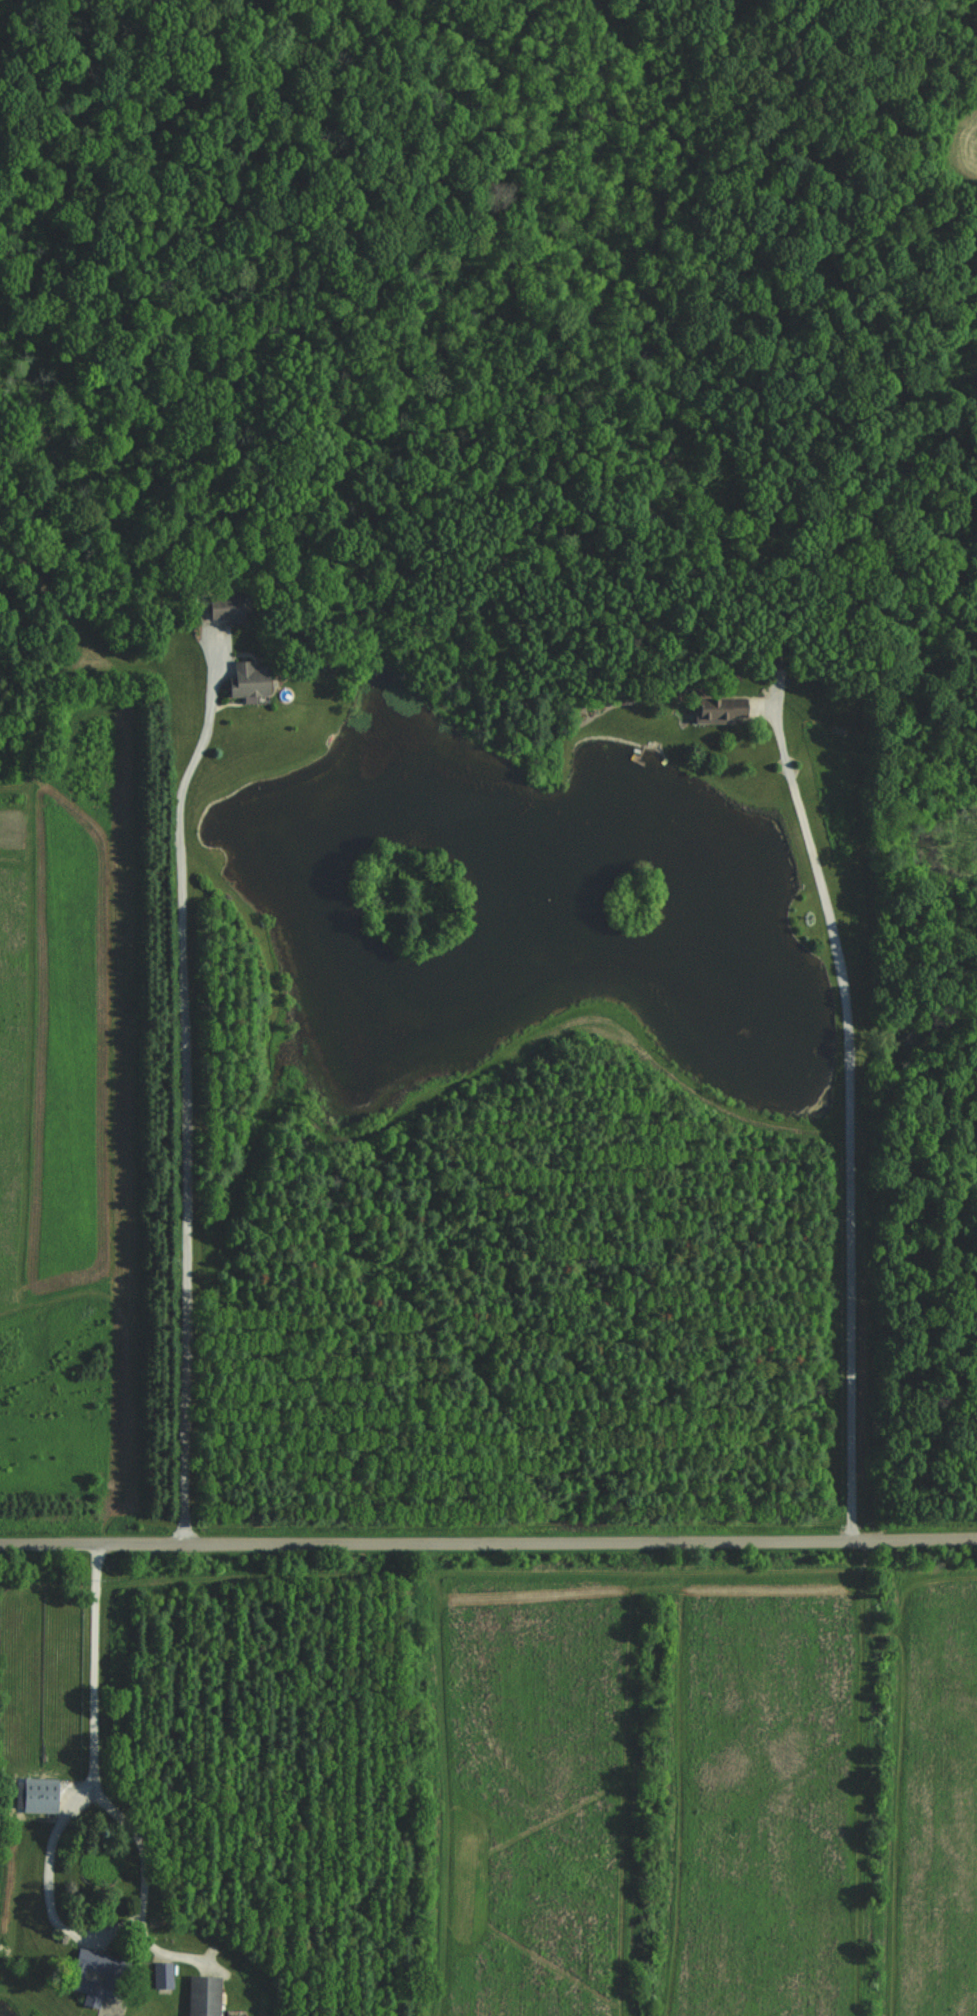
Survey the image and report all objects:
building: (221, 609)
building: (243, 681)
building: (717, 711)
road: (850, 1117)
road: (185, 1119)
road: (488, 1539)
road: (96, 1660)
building: (33, 1795)
road: (94, 1929)
building: (159, 1975)
building: (82, 1976)
building: (198, 1996)

